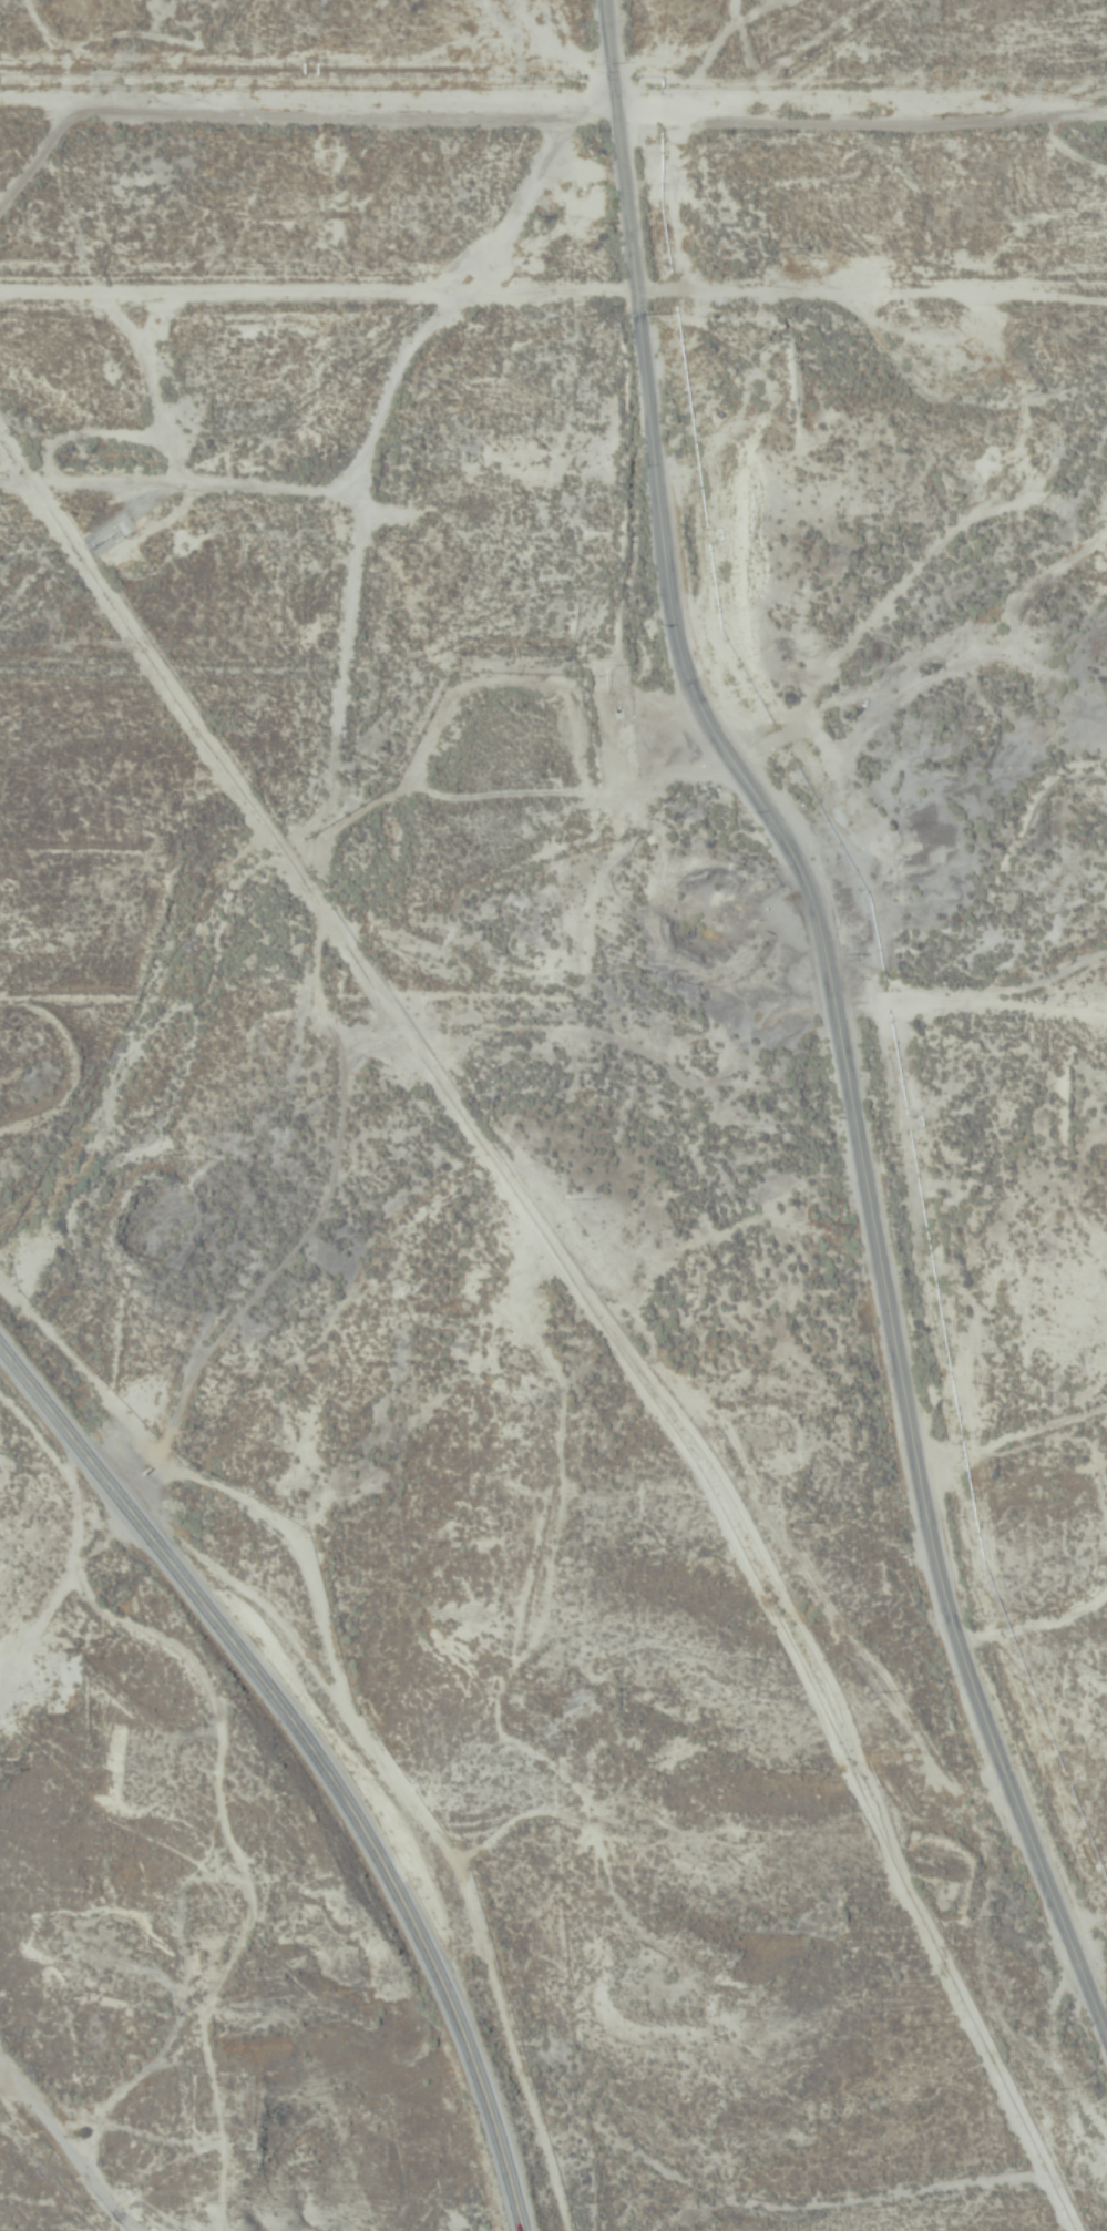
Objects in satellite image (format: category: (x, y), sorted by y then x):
road: (834, 1010)
road: (322, 1751)

